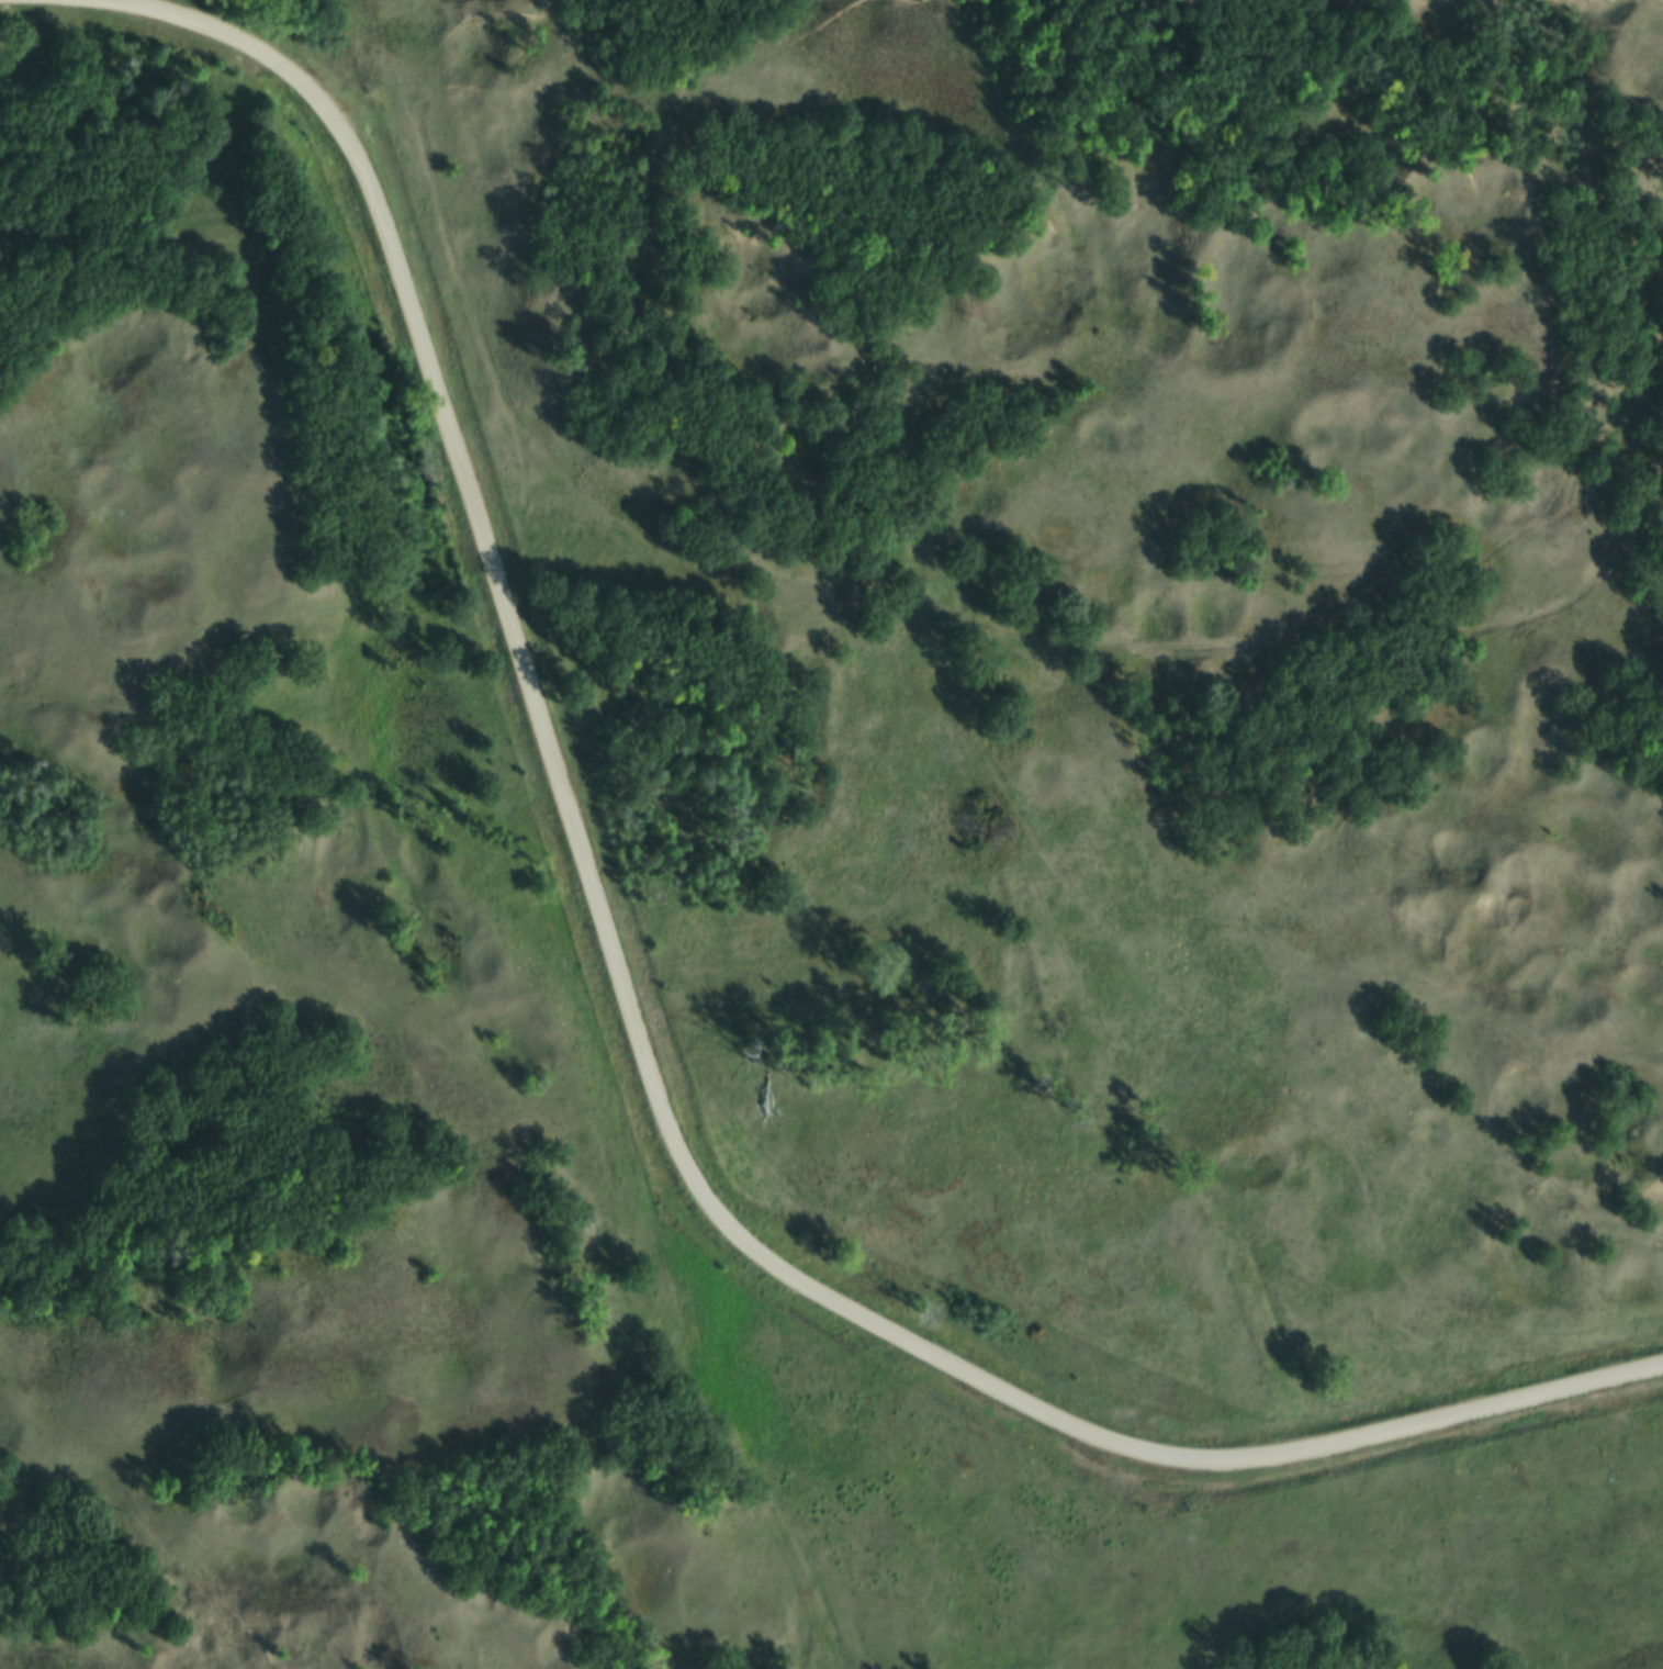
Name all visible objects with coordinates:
road: (629, 1004)

